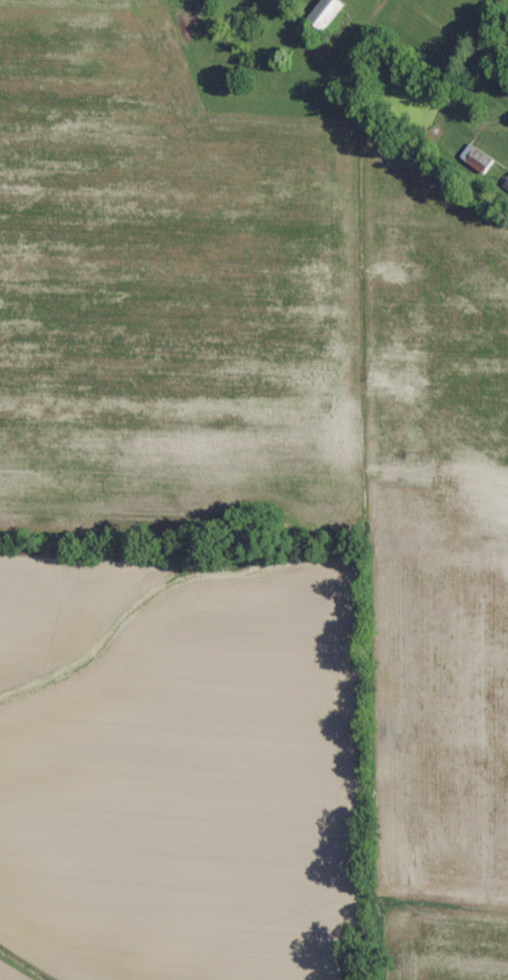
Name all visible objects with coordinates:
building: (331, 12)
building: (480, 157)

